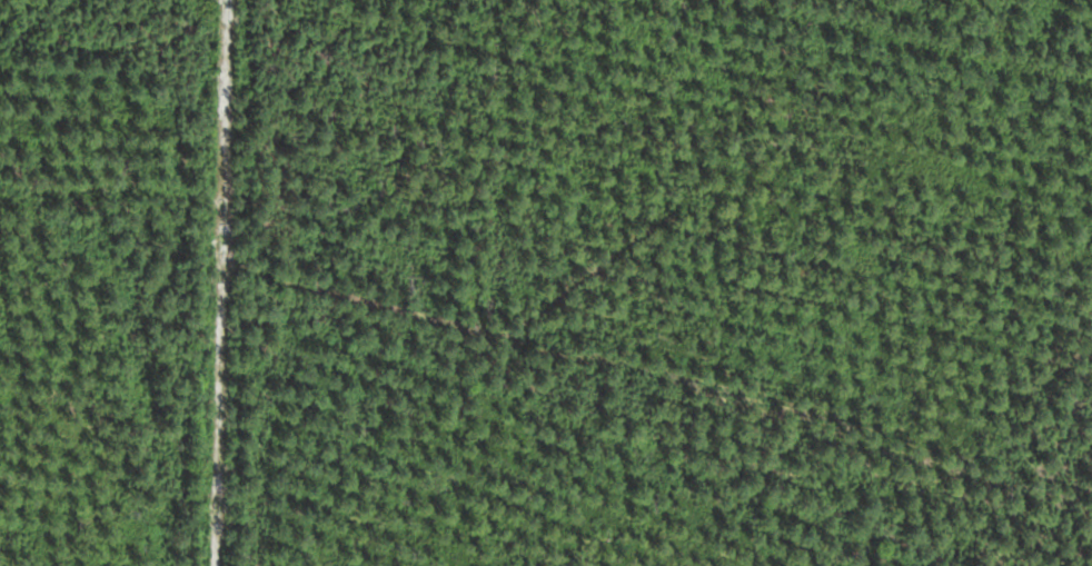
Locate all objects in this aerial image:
road: (225, 282)

